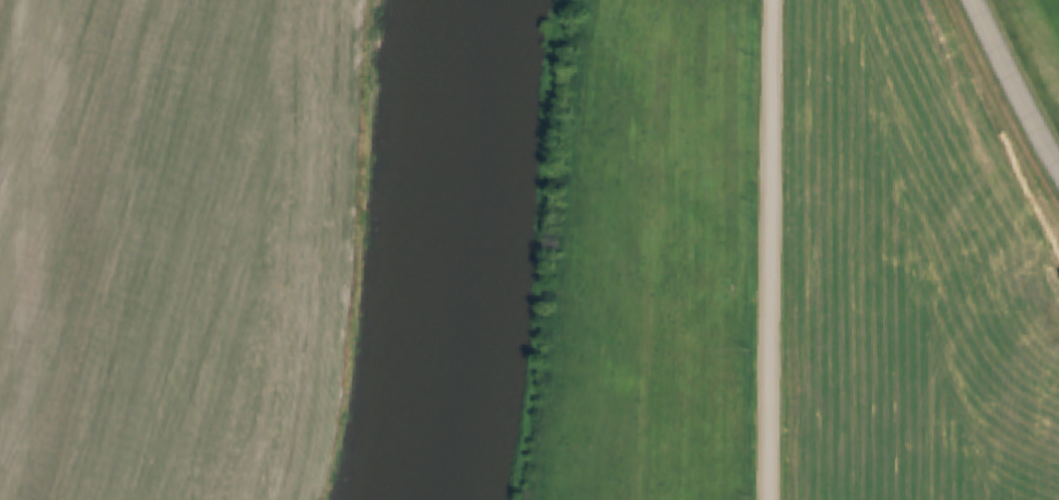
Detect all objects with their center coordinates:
road: (1019, 81)
river: (447, 250)
road: (776, 250)

